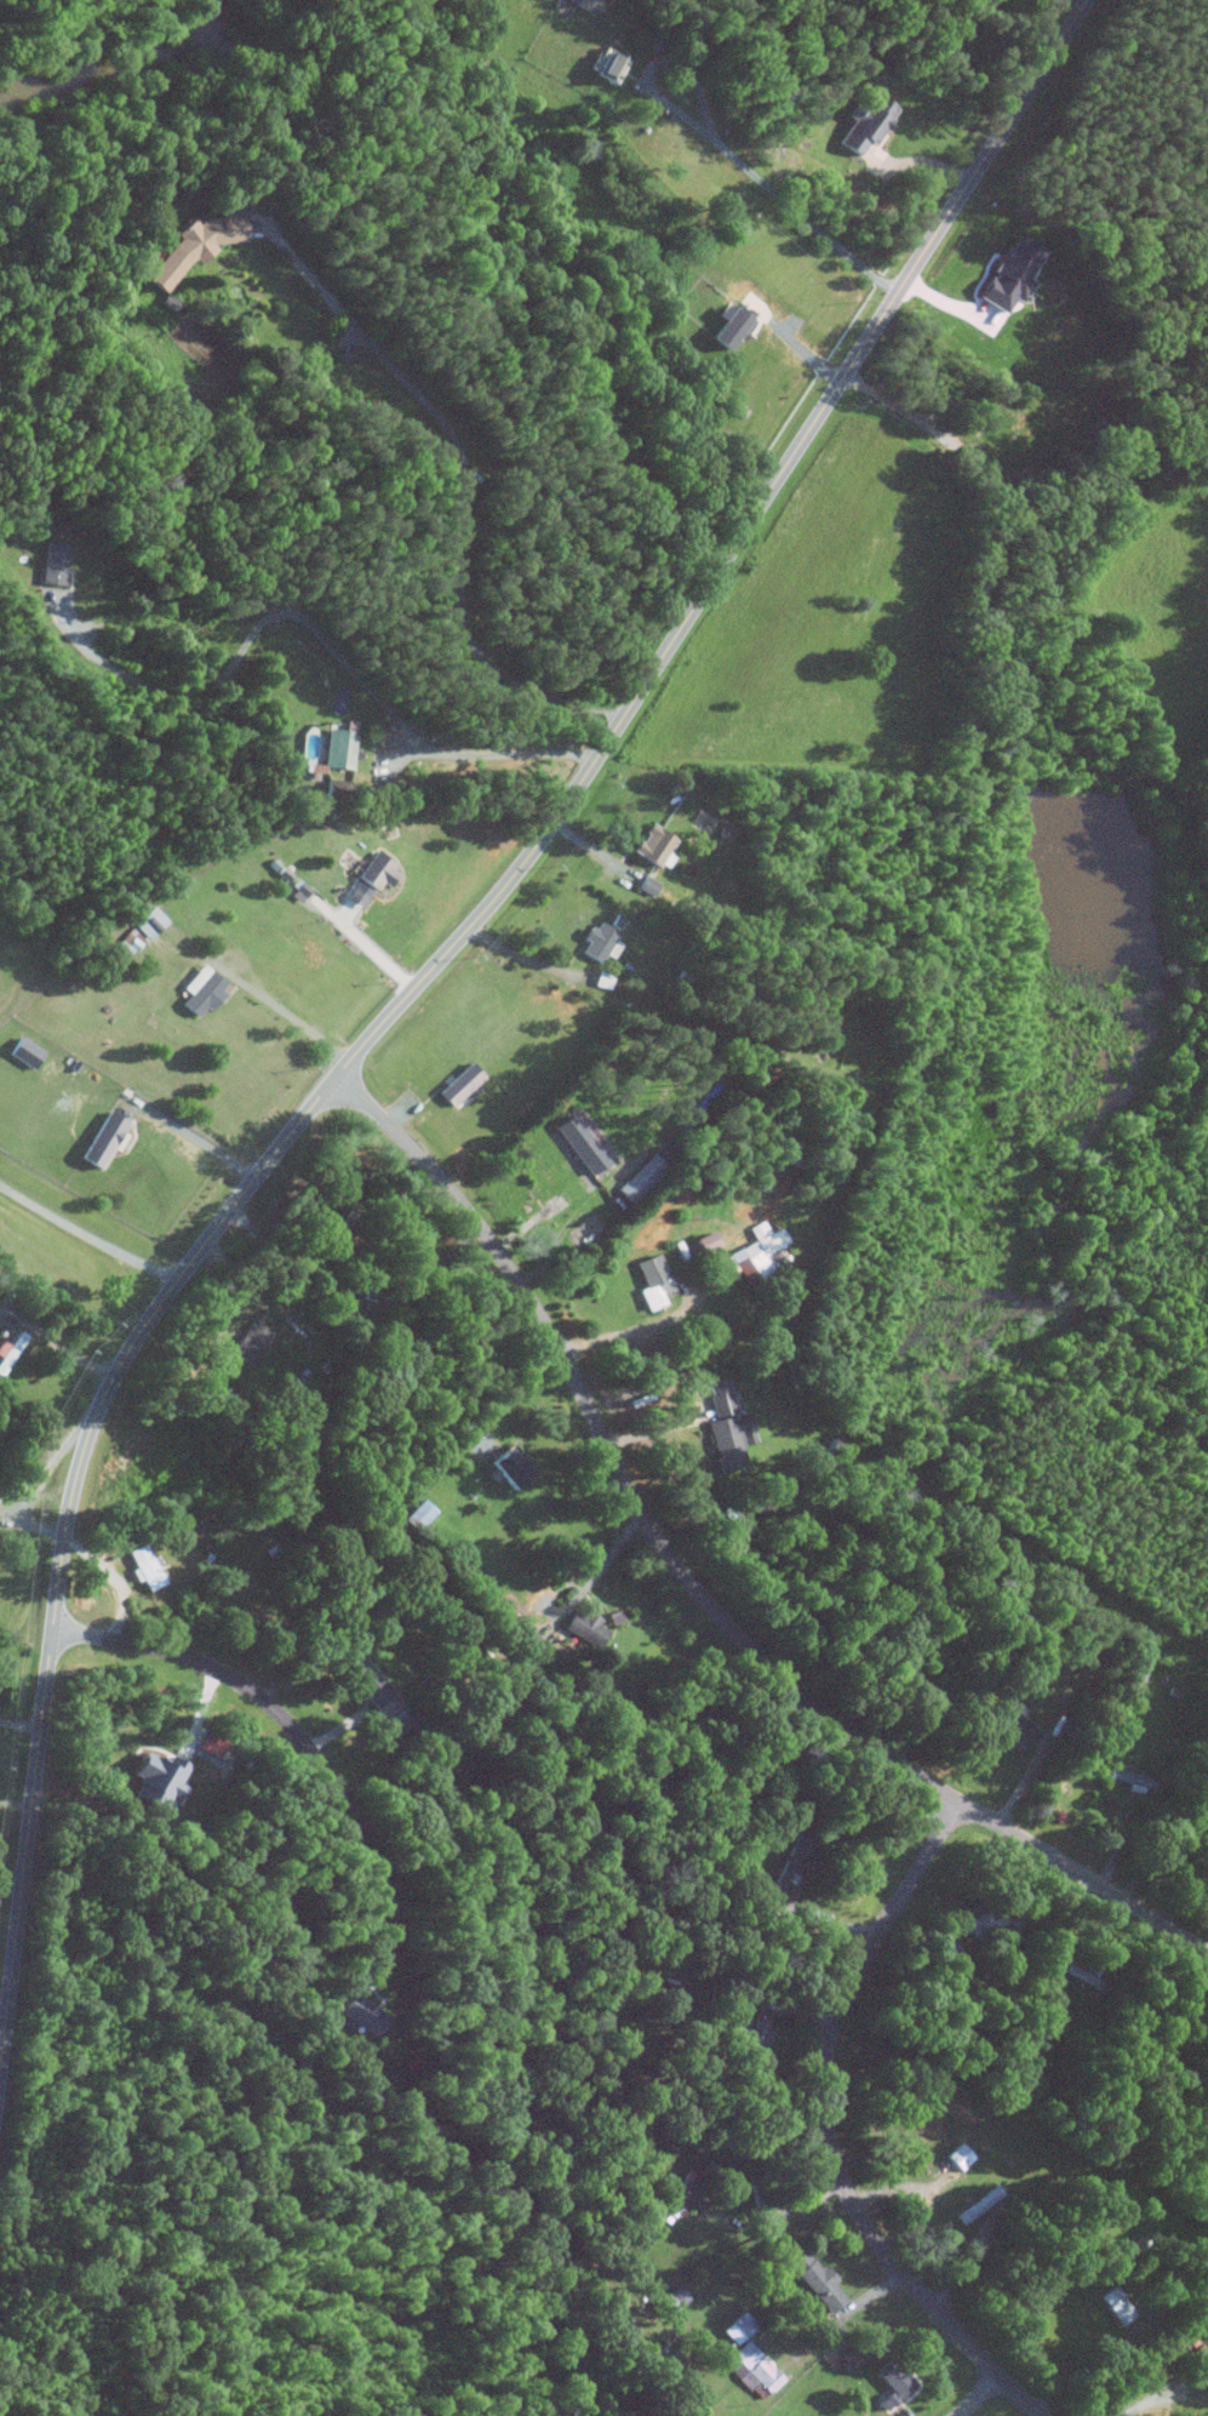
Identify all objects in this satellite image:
building: (586, 5)
building: (611, 64)
building: (868, 124)
road: (722, 143)
building: (196, 245)
building: (732, 327)
road: (795, 343)
road: (895, 407)
road: (465, 490)
building: (53, 562)
road: (315, 630)
building: (339, 748)
building: (653, 846)
building: (372, 879)
building: (150, 923)
building: (601, 939)
building: (130, 942)
road: (371, 943)
road: (523, 960)
road: (417, 983)
building: (202, 990)
road: (292, 1017)
building: (25, 1052)
building: (460, 1085)
road: (196, 1138)
building: (104, 1141)
building: (582, 1144)
building: (642, 1178)
road: (562, 1230)
road: (87, 1232)
building: (761, 1249)
building: (654, 1281)
road: (631, 1330)
building: (251, 1342)
road: (58, 1343)
road: (509, 1390)
building: (728, 1426)
building: (510, 1467)
road: (44, 1468)
road: (30, 1523)
building: (145, 1566)
road: (115, 1580)
road: (694, 1589)
road: (577, 1601)
building: (586, 1626)
building: (363, 1680)
road: (274, 1712)
building: (1013, 1724)
road: (19, 1725)
building: (159, 1778)
building: (1132, 1780)
road: (15, 1800)
road: (1160, 1856)
road: (10, 1886)
building: (362, 2012)
road: (829, 2129)
building: (686, 2195)
road: (785, 2214)
building: (817, 2279)
building: (674, 2300)
building: (1117, 2306)
building: (738, 2328)
building: (754, 2368)
building: (895, 2378)
road: (978, 2395)
road: (1151, 2400)
building: (1207, 2415)

